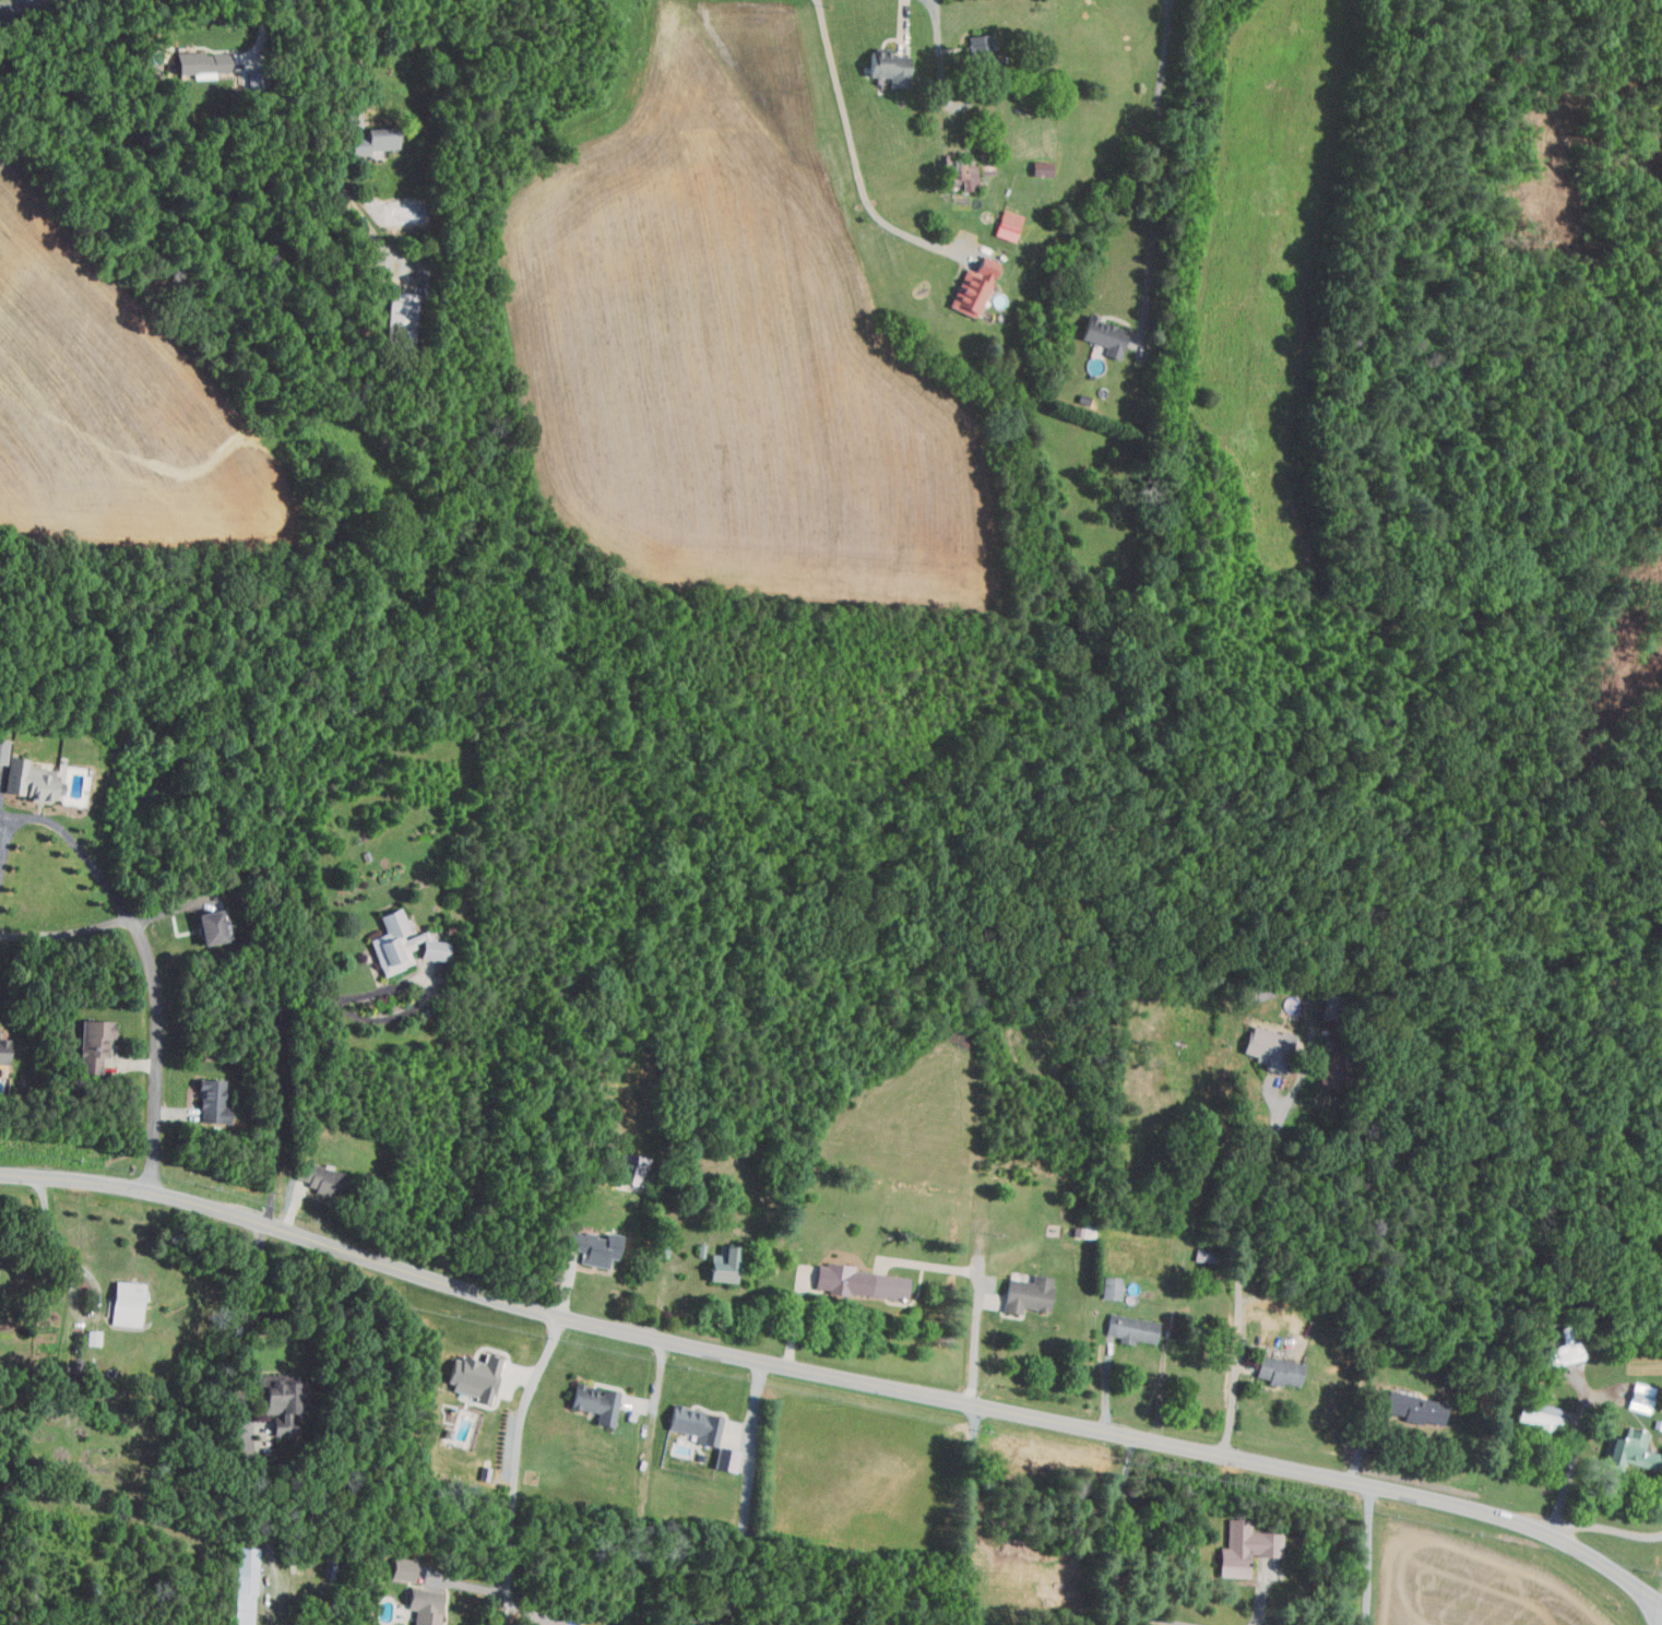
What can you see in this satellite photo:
road: (21, 5)
building: (978, 48)
road: (364, 59)
building: (199, 63)
building: (886, 67)
road: (852, 143)
building: (368, 145)
building: (967, 168)
building: (1038, 168)
road: (1156, 170)
building: (1006, 225)
building: (969, 286)
building: (396, 318)
building: (1102, 335)
building: (3, 750)
building: (29, 781)
road: (66, 833)
building: (205, 927)
road: (68, 934)
building: (417, 939)
building: (390, 944)
building: (431, 950)
road: (306, 1003)
building: (92, 1046)
building: (1266, 1047)
road: (155, 1056)
building: (1327, 1071)
building: (209, 1099)
building: (630, 1170)
building: (317, 1178)
road: (1244, 1227)
road: (58, 1248)
building: (592, 1248)
building: (720, 1266)
building: (857, 1283)
building: (1109, 1289)
building: (1024, 1295)
building: (124, 1304)
road: (795, 1317)
building: (1130, 1328)
building: (1562, 1352)
road: (973, 1353)
building: (1277, 1372)
building: (472, 1378)
road: (835, 1379)
building: (1639, 1398)
building: (592, 1403)
building: (280, 1405)
building: (1413, 1410)
building: (1538, 1418)
road: (247, 1425)
building: (693, 1425)
building: (1627, 1451)
road: (1574, 1458)
road: (517, 1467)
road: (746, 1503)
road: (969, 1516)
road: (1610, 1528)
building: (1244, 1549)
road: (1111, 1555)
road: (1369, 1556)
building: (399, 1568)
building: (245, 1586)
building: (423, 1605)
road: (1259, 1613)

